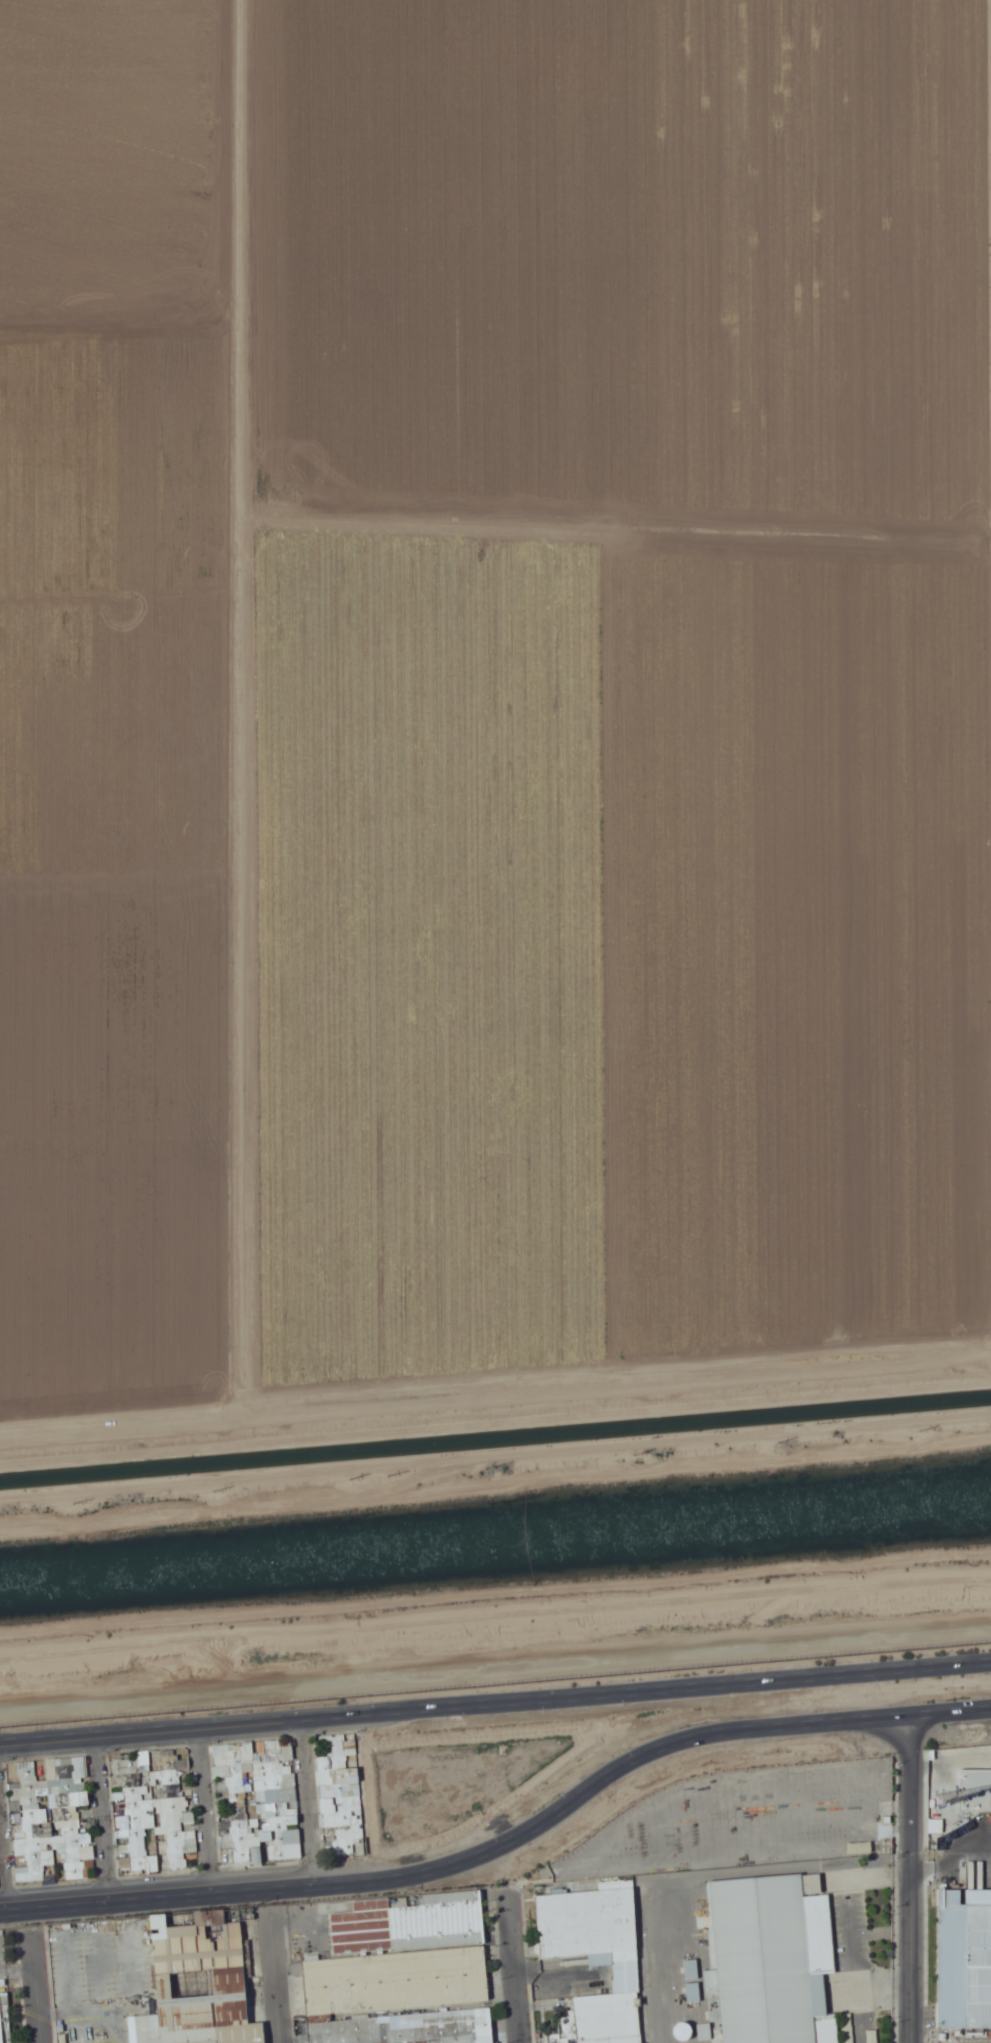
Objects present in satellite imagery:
road: (741, 1686)
road: (245, 1726)
road: (733, 1735)
building: (975, 1789)
road: (309, 1804)
road: (208, 1812)
road: (106, 1821)
building: (288, 1837)
building: (257, 1855)
road: (5, 1860)
road: (910, 1881)
road: (255, 1891)
building: (598, 1955)
building: (347, 1959)
building: (780, 1959)
building: (979, 1966)
road: (516, 1972)
road: (279, 1983)
building: (204, 1985)
road: (39, 1996)
building: (1, 2021)
building: (399, 2029)

